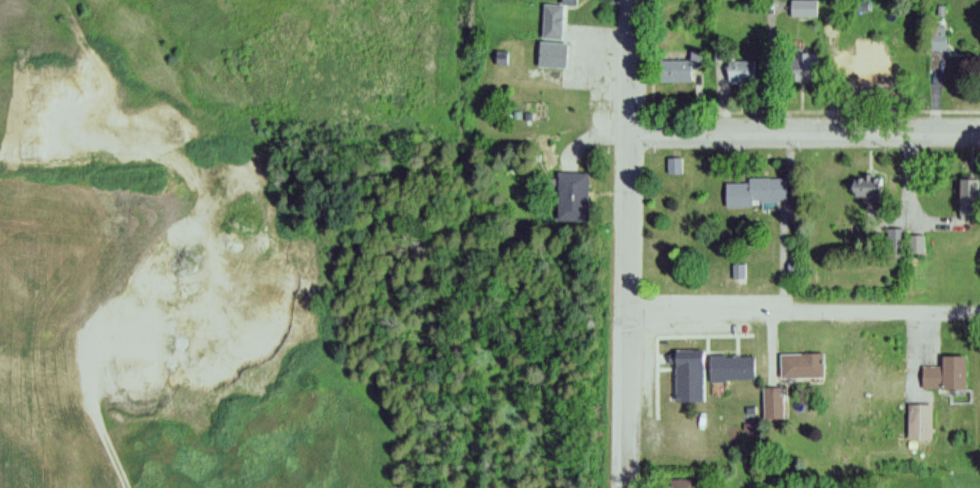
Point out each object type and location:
building: (804, 9)
building: (553, 36)
building: (936, 38)
building: (869, 64)
building: (796, 68)
building: (674, 71)
building: (741, 72)
road: (806, 134)
building: (860, 191)
building: (756, 194)
building: (572, 197)
building: (967, 197)
building: (894, 242)
road: (628, 243)
building: (916, 244)
road: (803, 308)
building: (800, 366)
building: (731, 368)
building: (945, 374)
building: (688, 376)
building: (772, 403)
building: (919, 422)
building: (682, 484)

